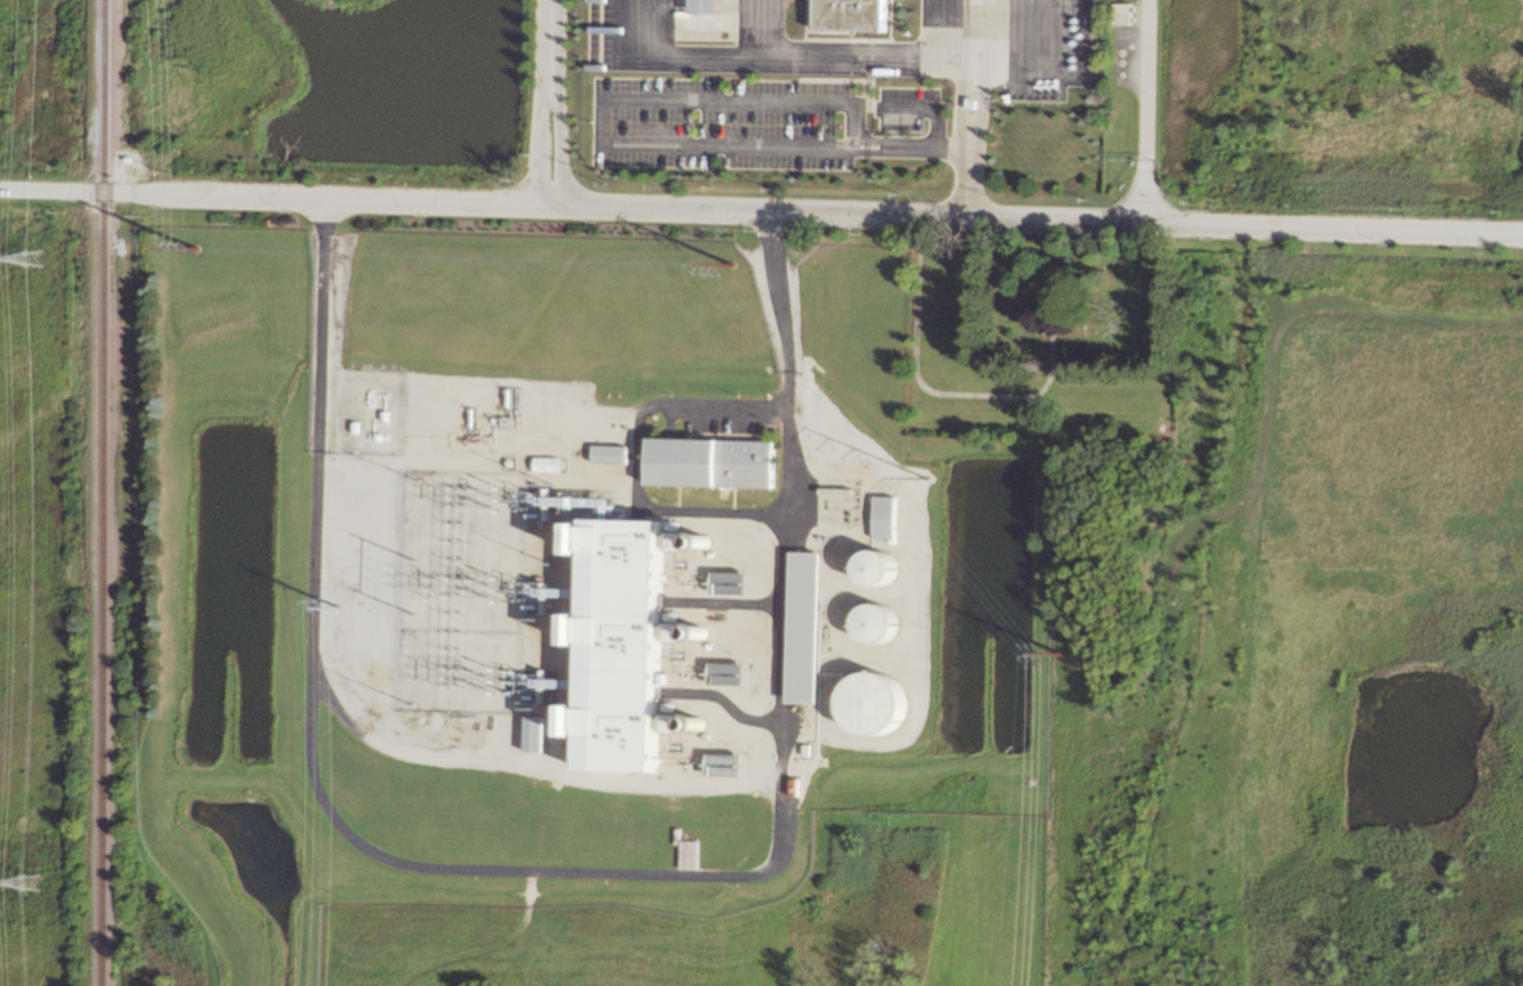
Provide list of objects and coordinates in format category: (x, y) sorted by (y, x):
building: (709, 5)
building: (1122, 13)
building: (854, 14)
road: (764, 27)
road: (945, 28)
road: (772, 55)
road: (1030, 63)
road: (548, 101)
road: (602, 101)
road: (963, 102)
road: (928, 108)
road: (1146, 111)
road: (853, 144)
road: (960, 148)
road: (761, 209)
power tower: (194, 247)
power tower: (730, 261)
park: (1040, 339)
road: (983, 395)
building: (612, 454)
road: (636, 460)
building: (714, 462)
building: (550, 464)
power tower: (925, 475)
railway: (103, 493)
building: (886, 517)
building: (681, 540)
chimney: (712, 541)
building: (880, 567)
power tower: (416, 582)
power substation: (462, 593)
power tower: (338, 606)
building: (877, 623)
building: (808, 628)
power plant: (658, 631)
chimney: (712, 636)
building: (628, 646)
power tower: (1059, 652)
building: (875, 703)
building: (576, 719)
building: (676, 722)
chimney: (708, 726)
building: (535, 733)
road: (562, 872)
power tower: (26, 883)

